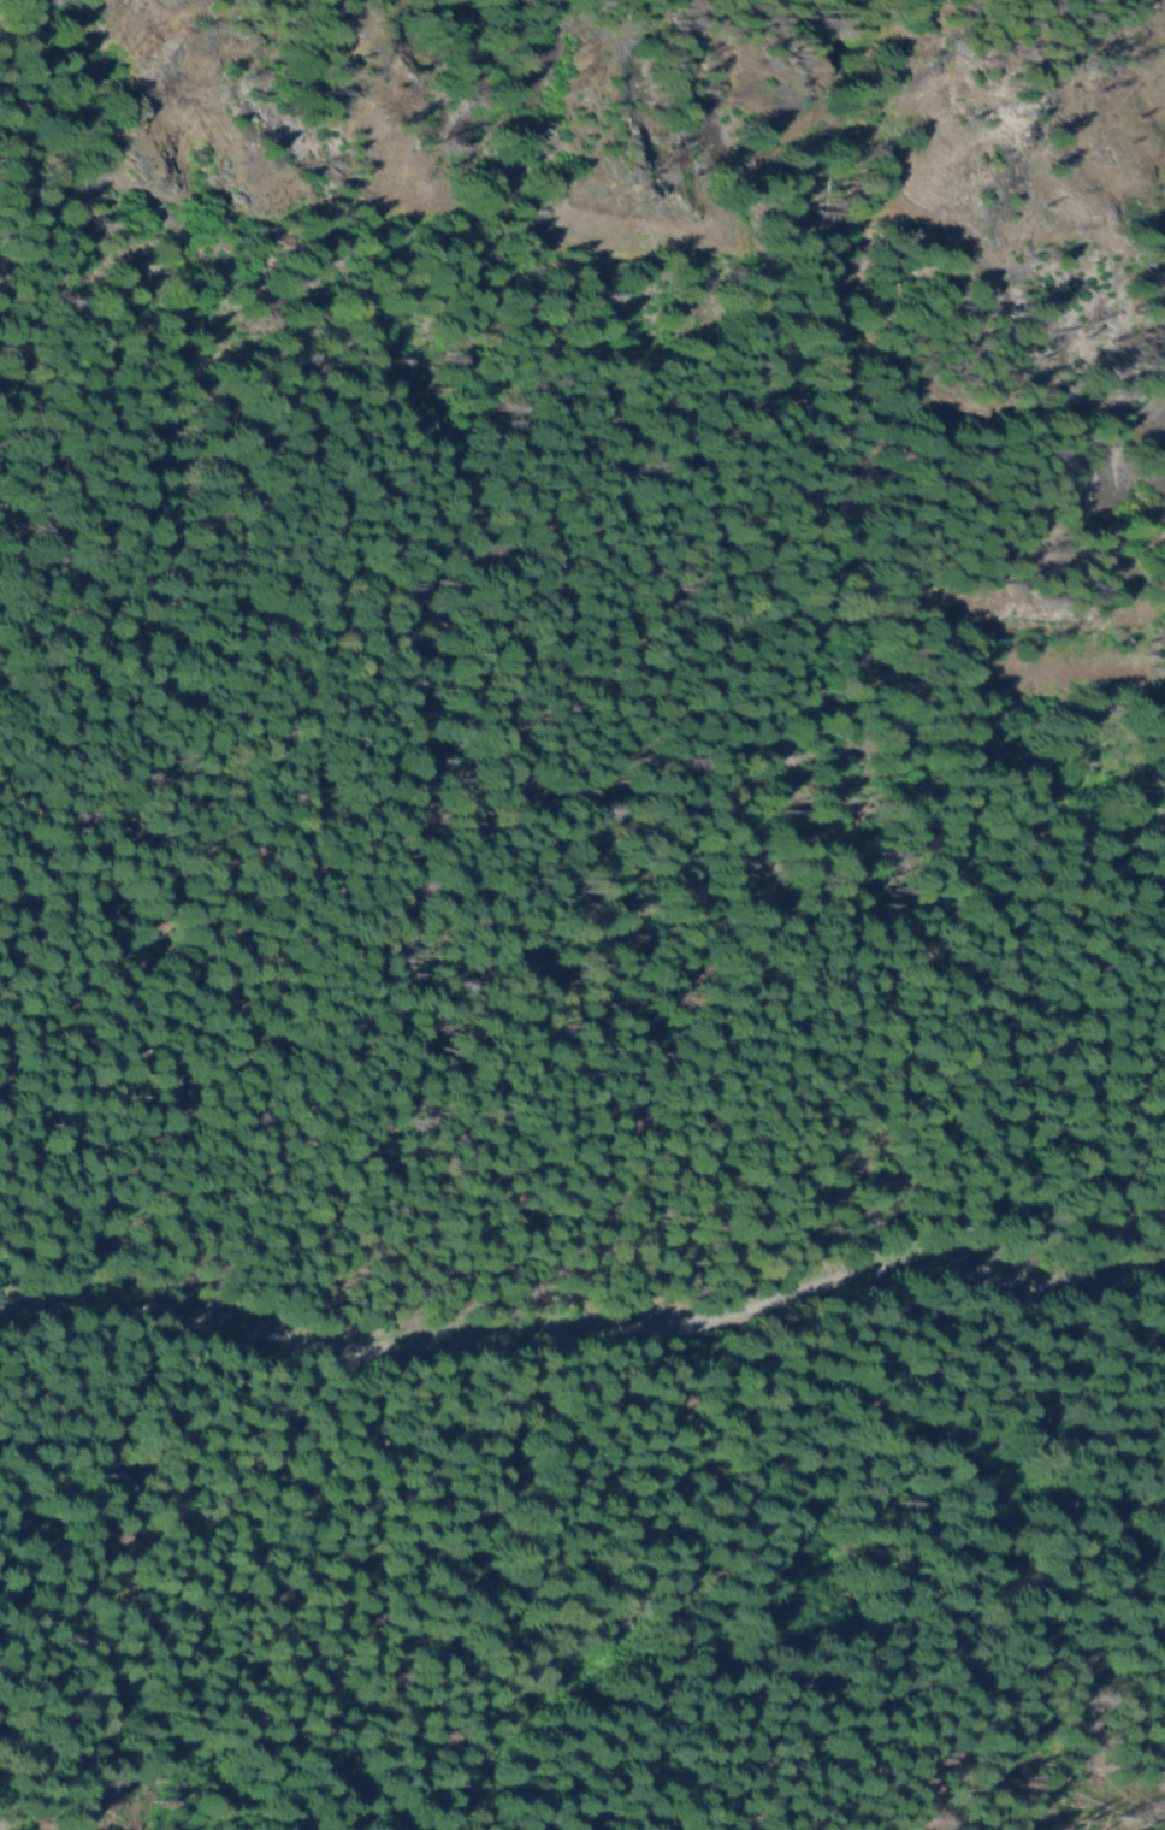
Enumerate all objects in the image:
road: (582, 1334)

